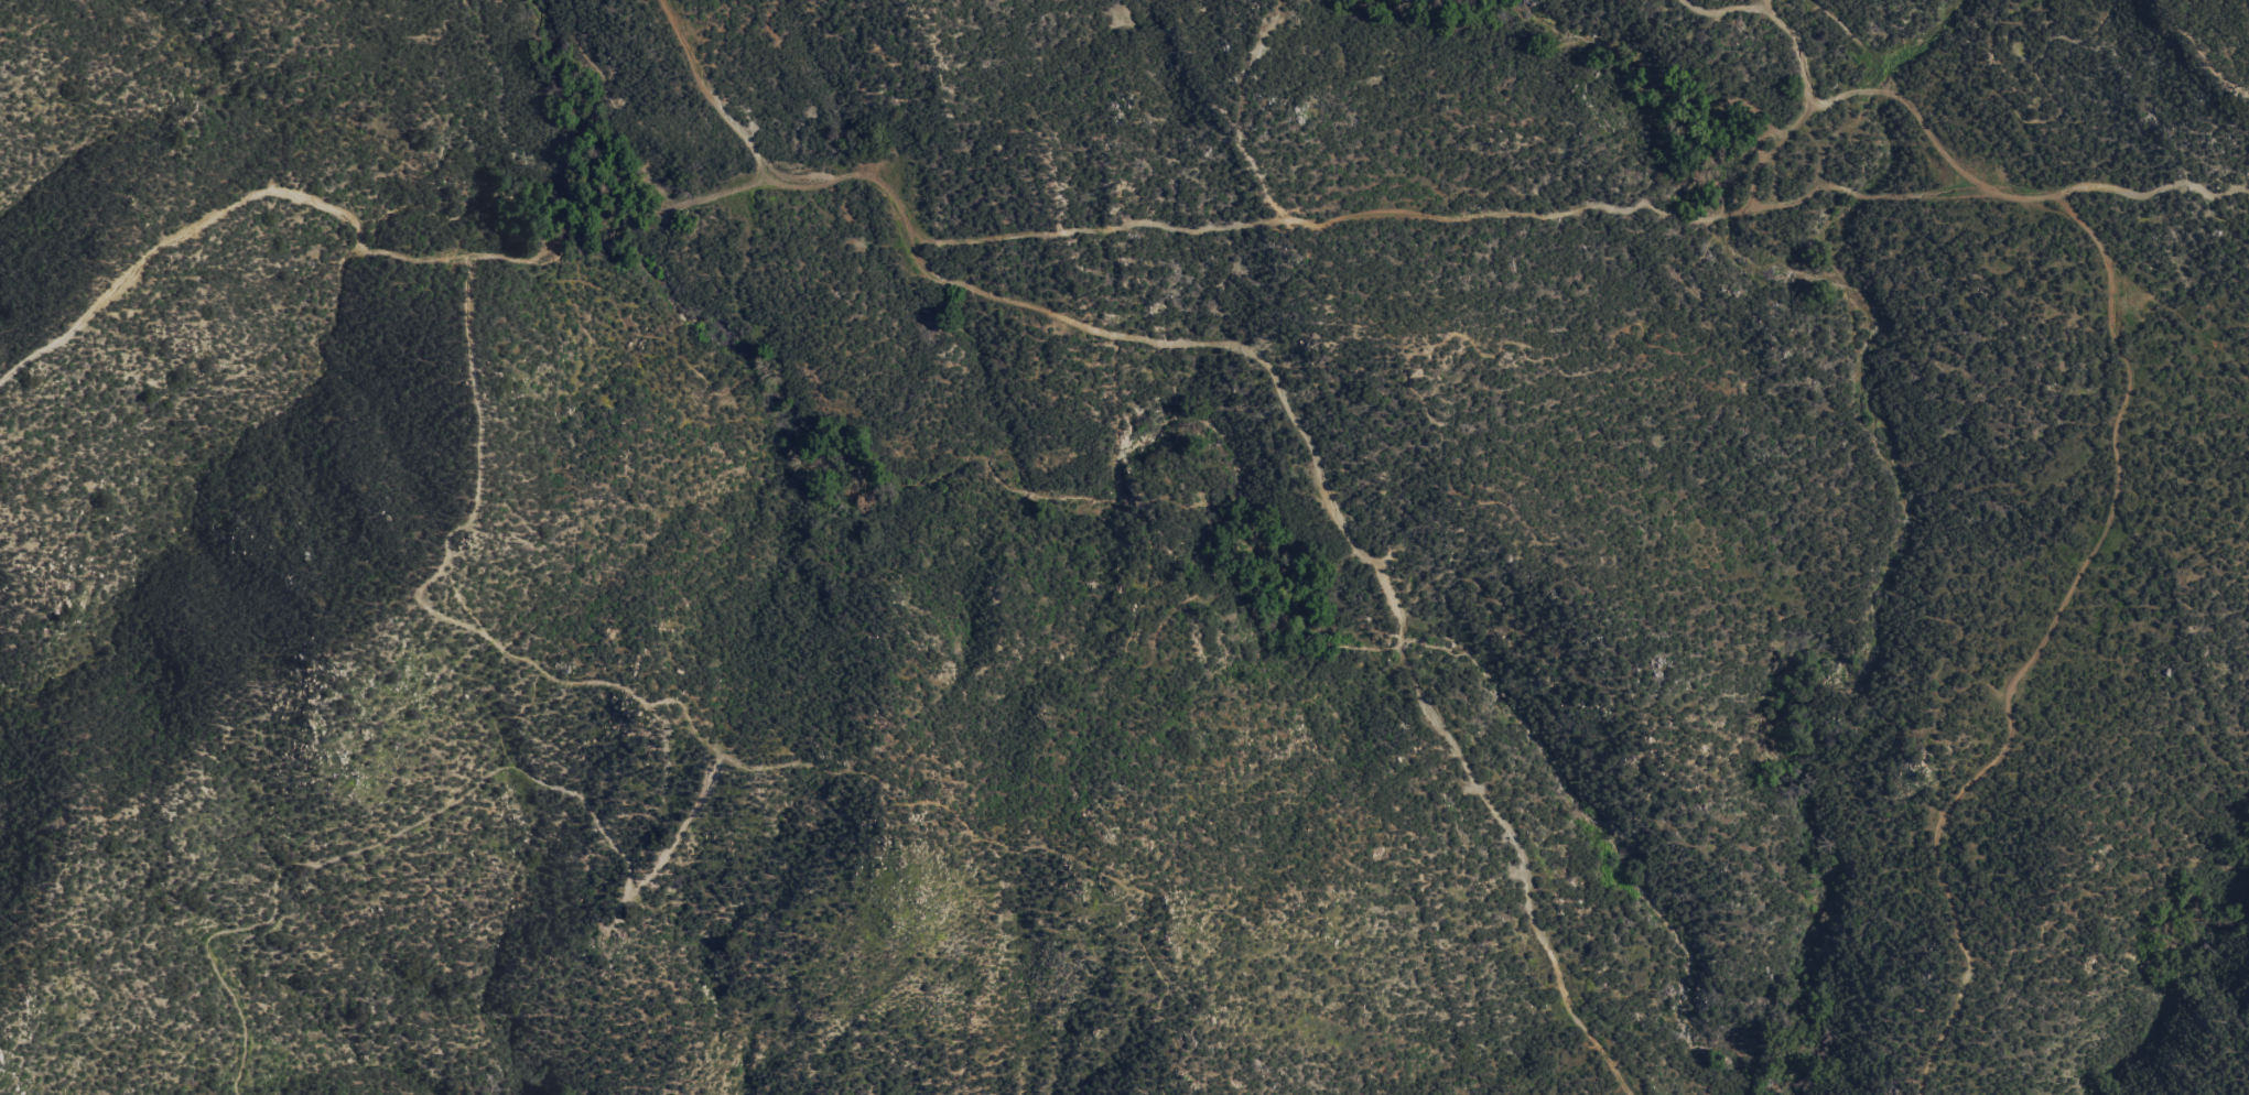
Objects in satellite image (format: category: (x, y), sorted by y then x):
road: (2115, 464)

